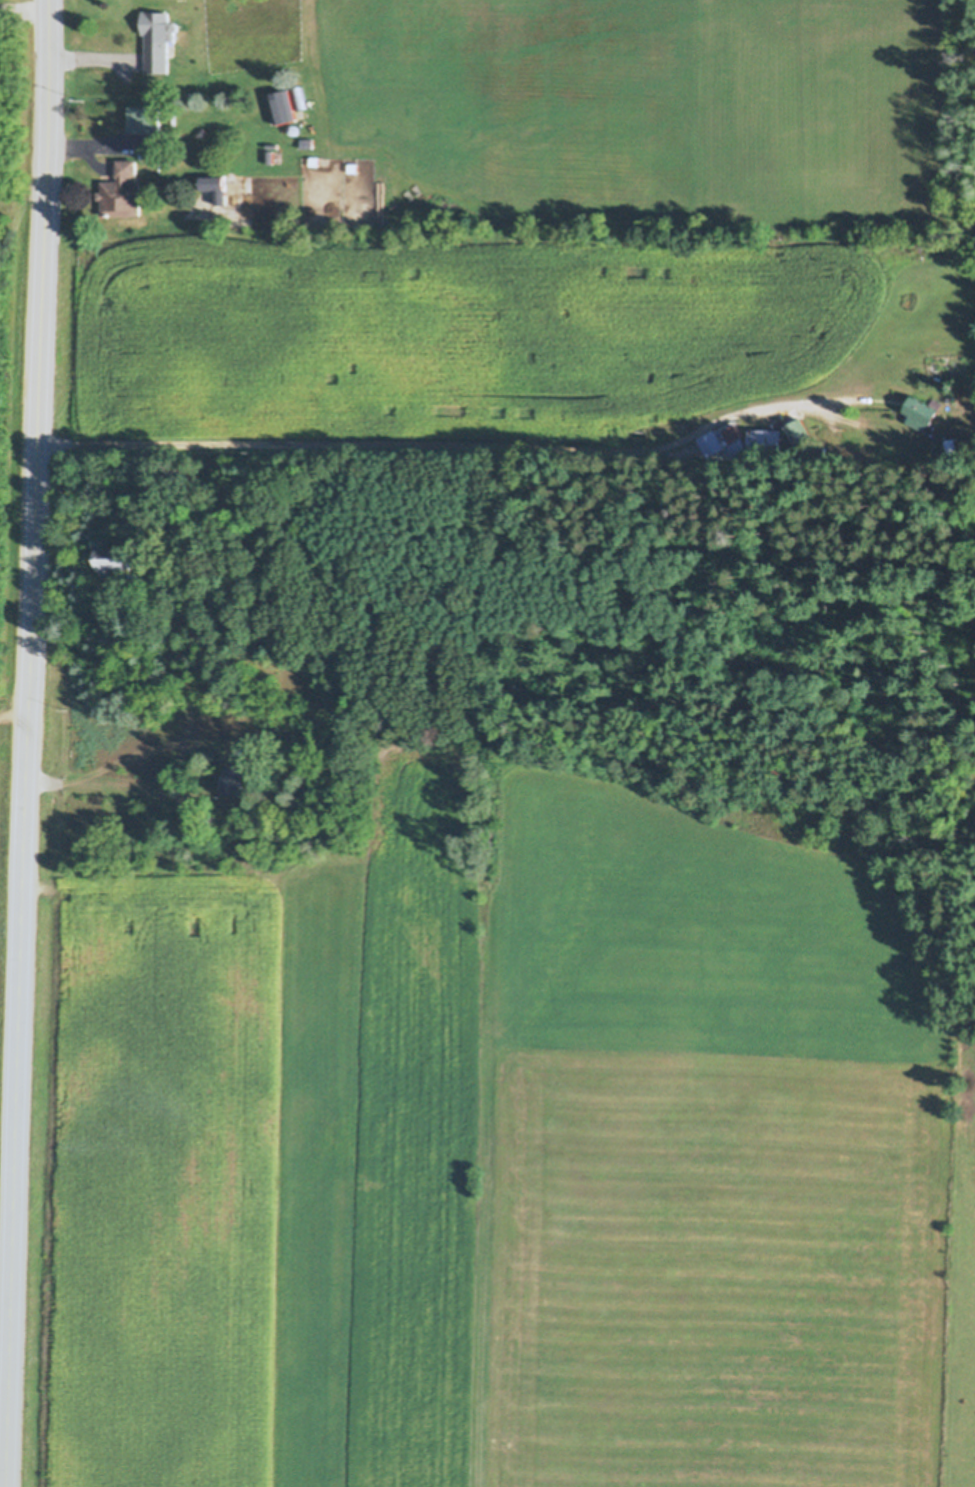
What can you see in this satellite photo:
building: (157, 41)
road: (94, 61)
building: (299, 97)
building: (280, 107)
building: (144, 120)
building: (293, 129)
building: (306, 143)
building: (269, 157)
building: (313, 161)
building: (215, 189)
building: (121, 193)
building: (923, 416)
building: (663, 421)
building: (799, 433)
building: (725, 444)
building: (766, 444)
building: (951, 448)
road: (451, 450)
building: (115, 550)
road: (26, 743)
building: (253, 755)
building: (232, 776)

